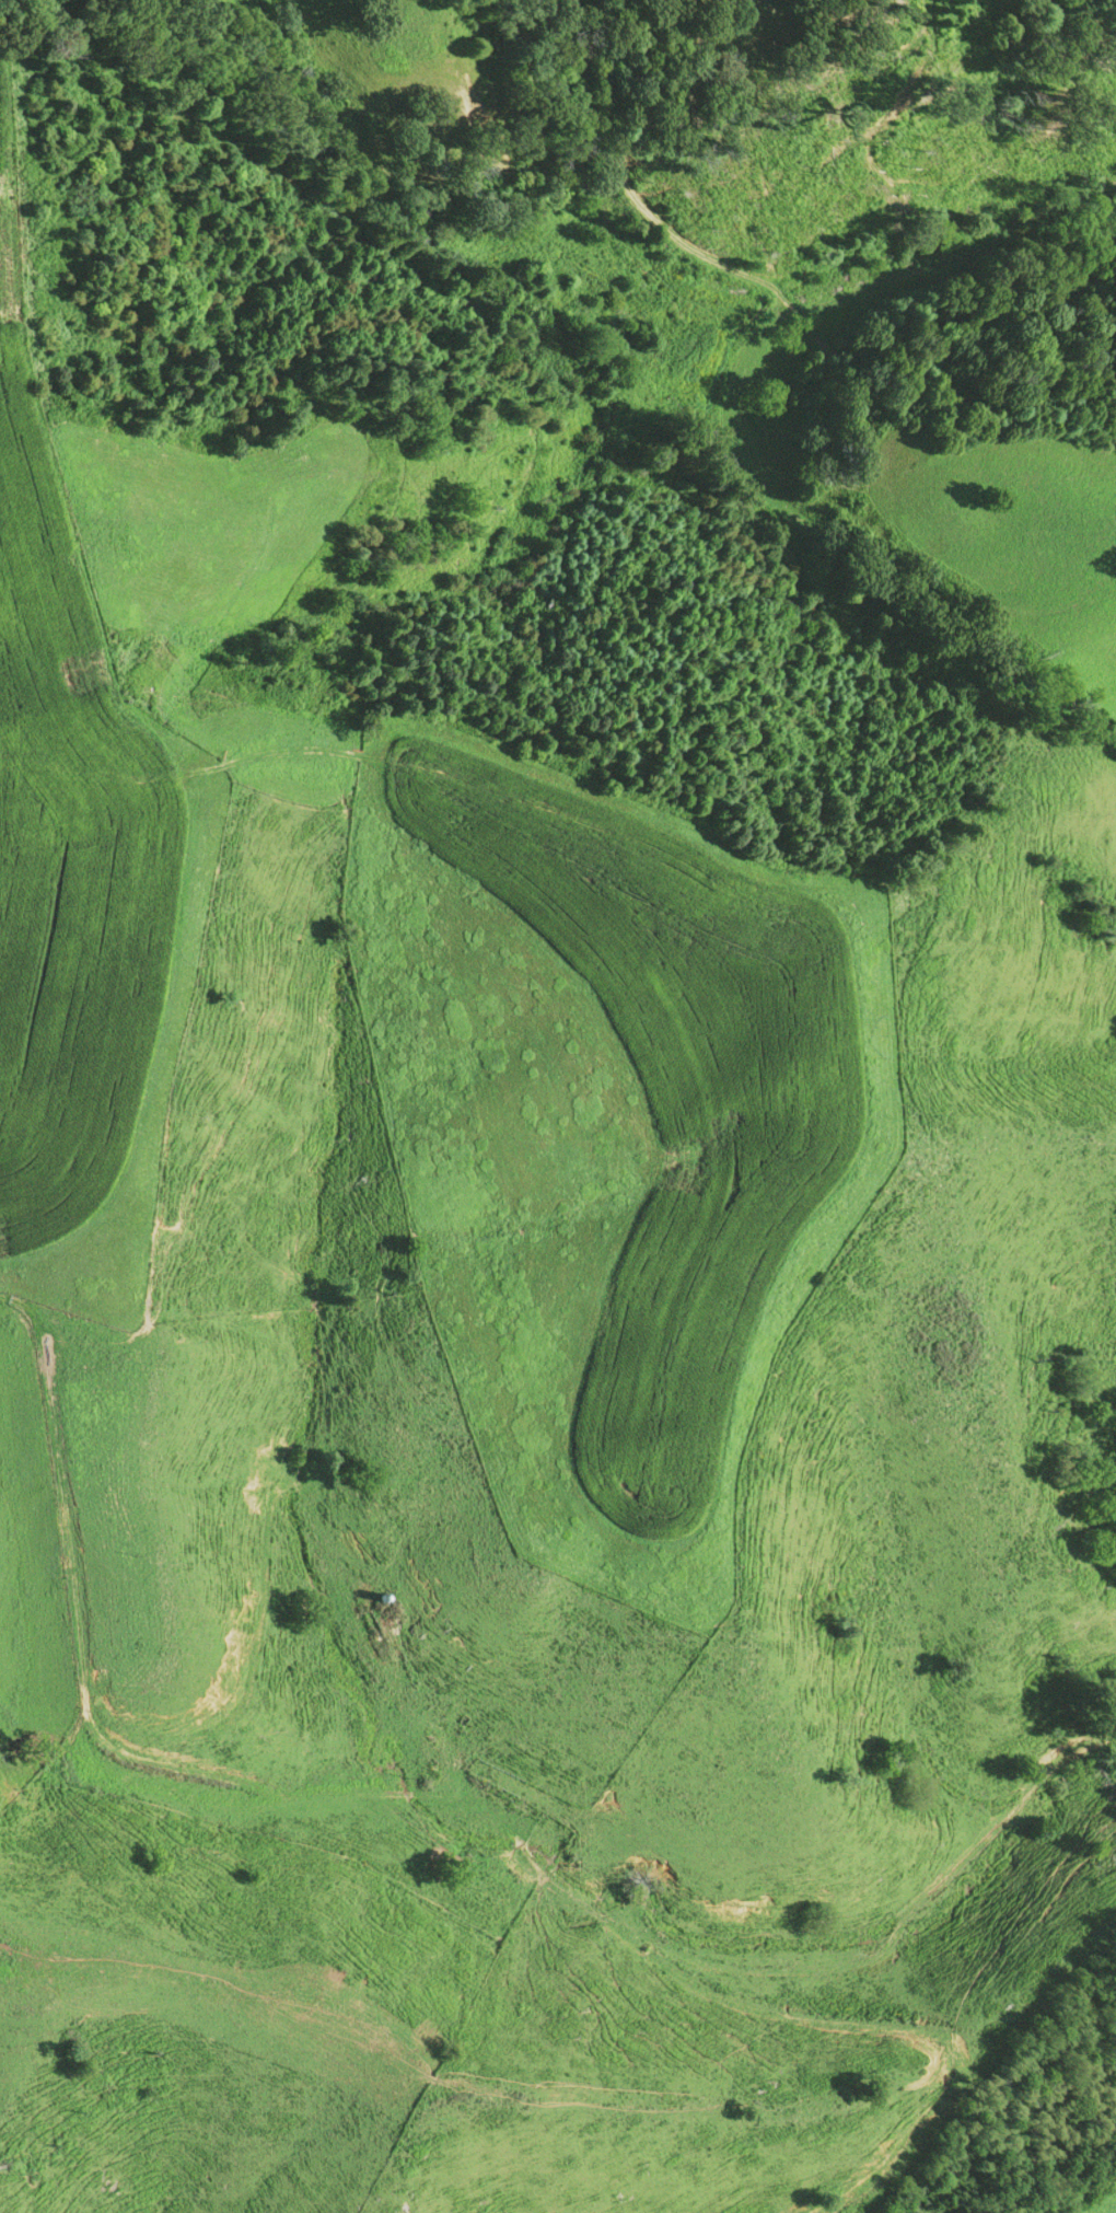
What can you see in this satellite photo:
building: (383, 1617)

